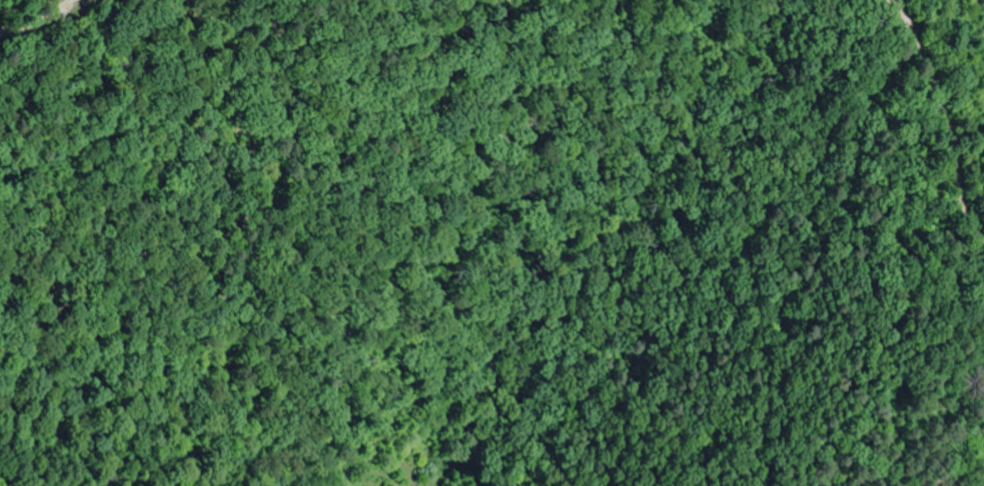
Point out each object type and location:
road: (933, 97)

